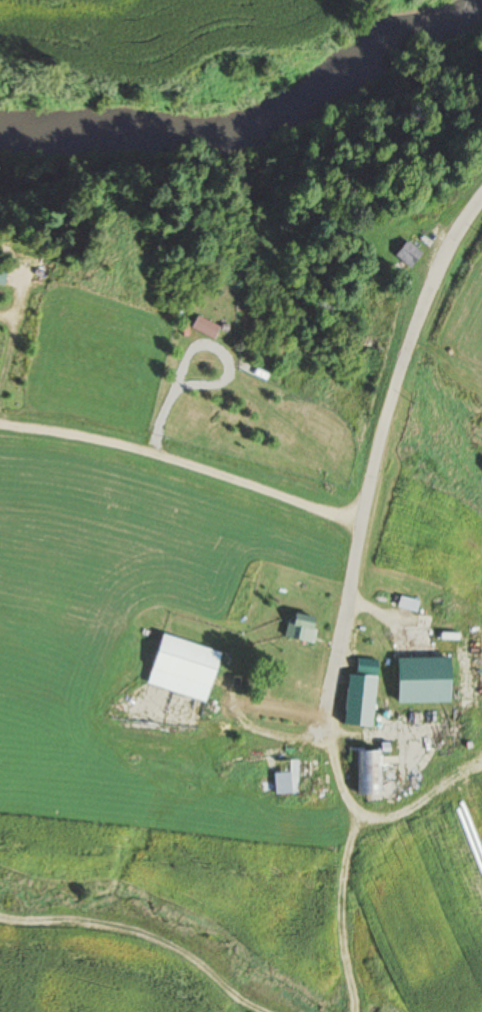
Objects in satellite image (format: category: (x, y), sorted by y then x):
river: (219, 112)
building: (405, 230)
building: (407, 253)
road: (360, 337)
building: (223, 624)
building: (301, 627)
building: (183, 667)
building: (422, 679)
building: (360, 694)
building: (368, 773)
building: (294, 775)

